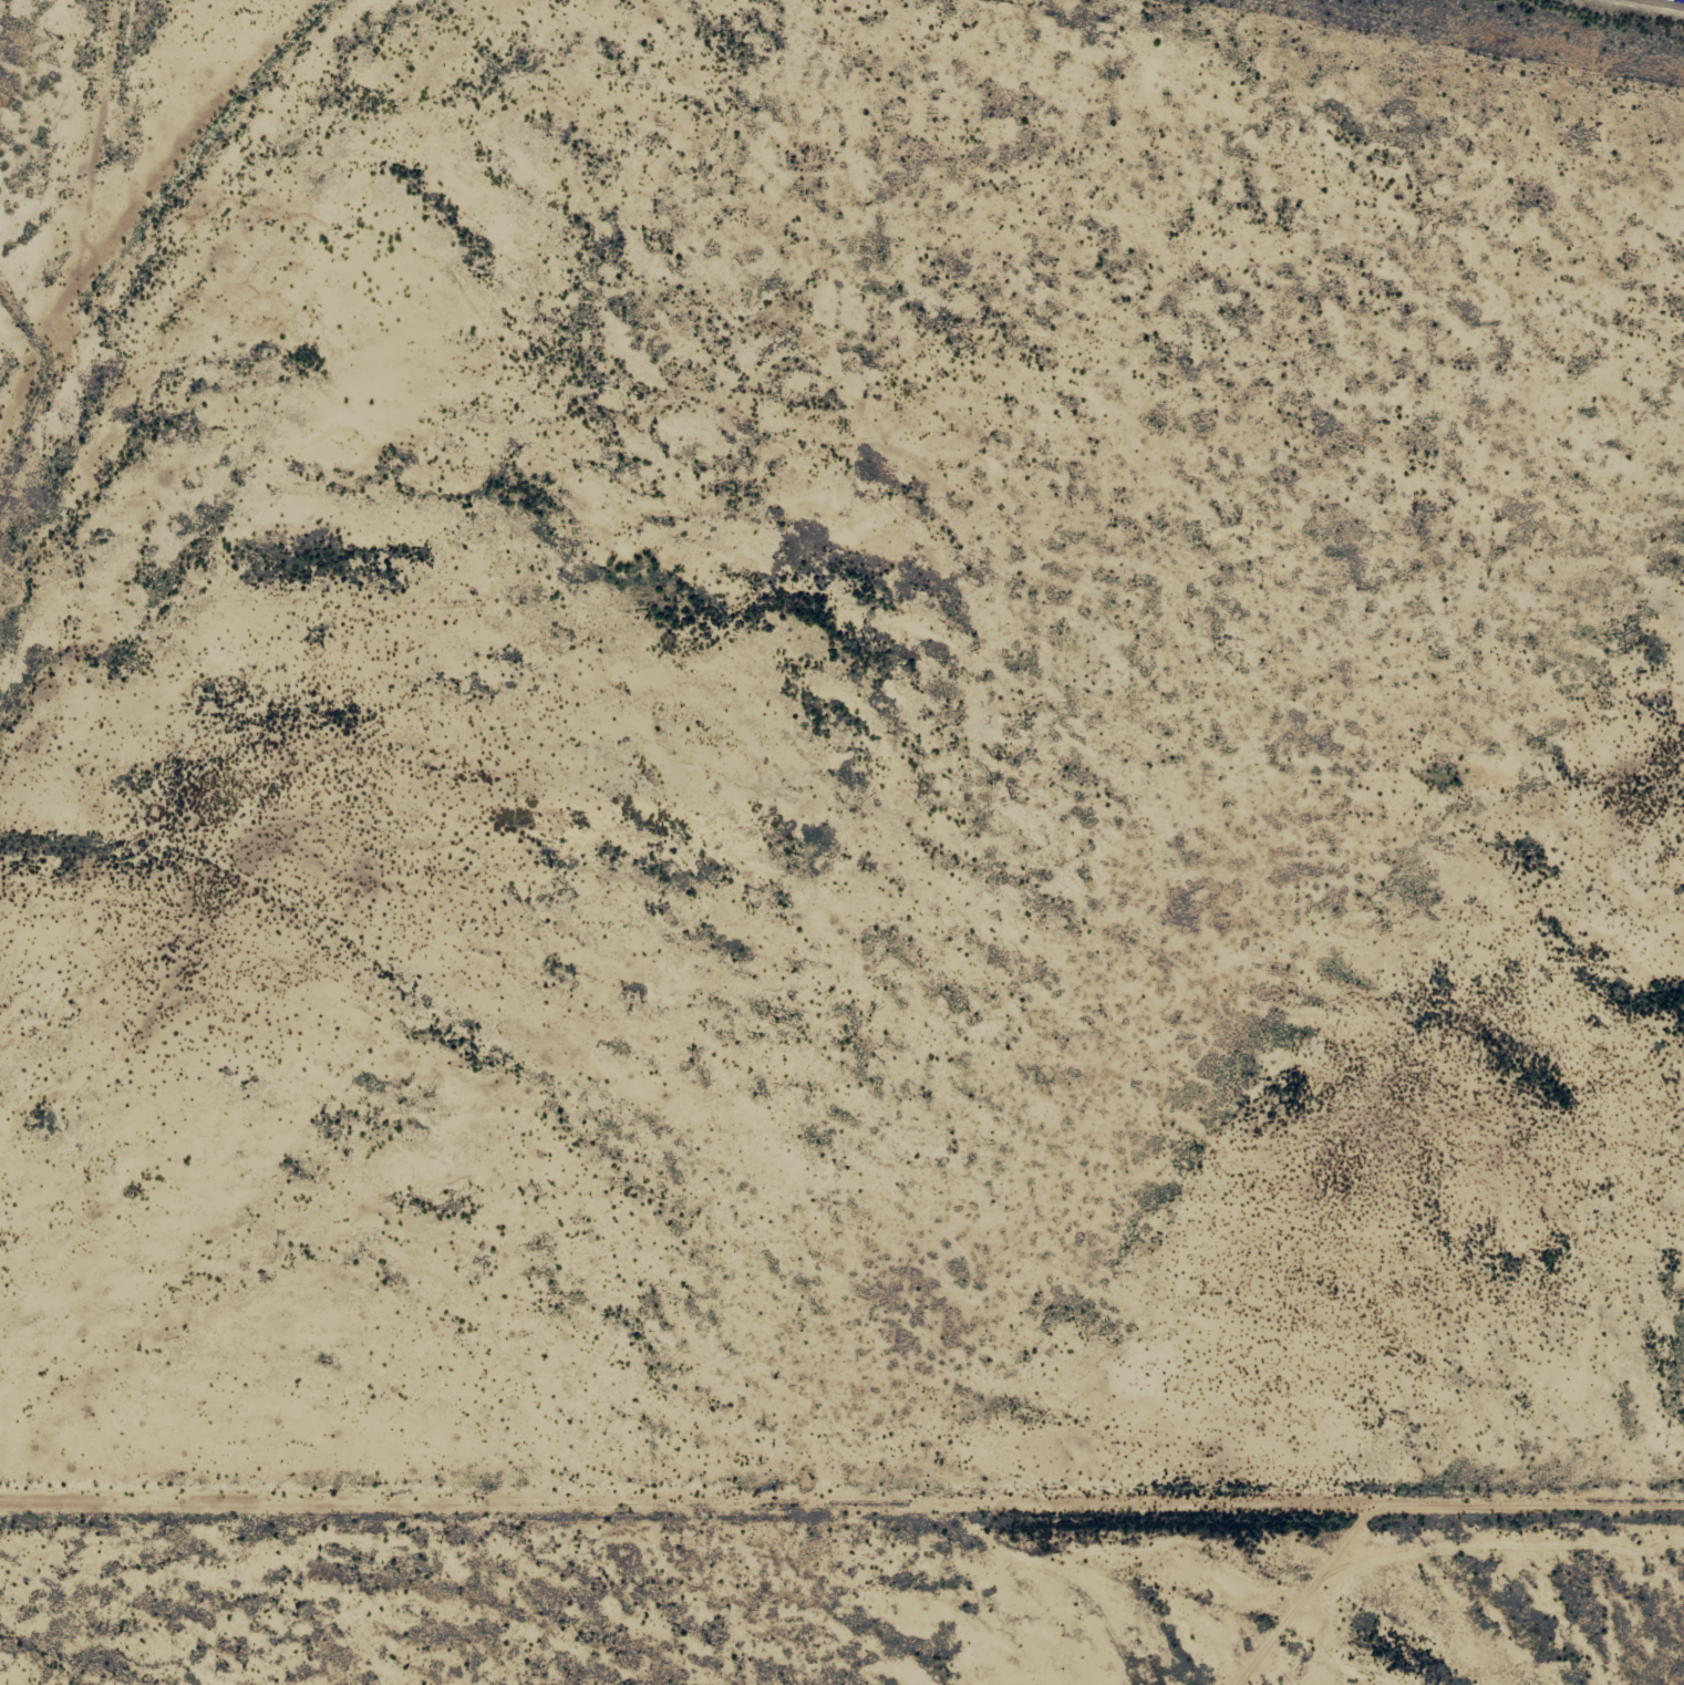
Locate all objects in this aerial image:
road: (1681, 0)

